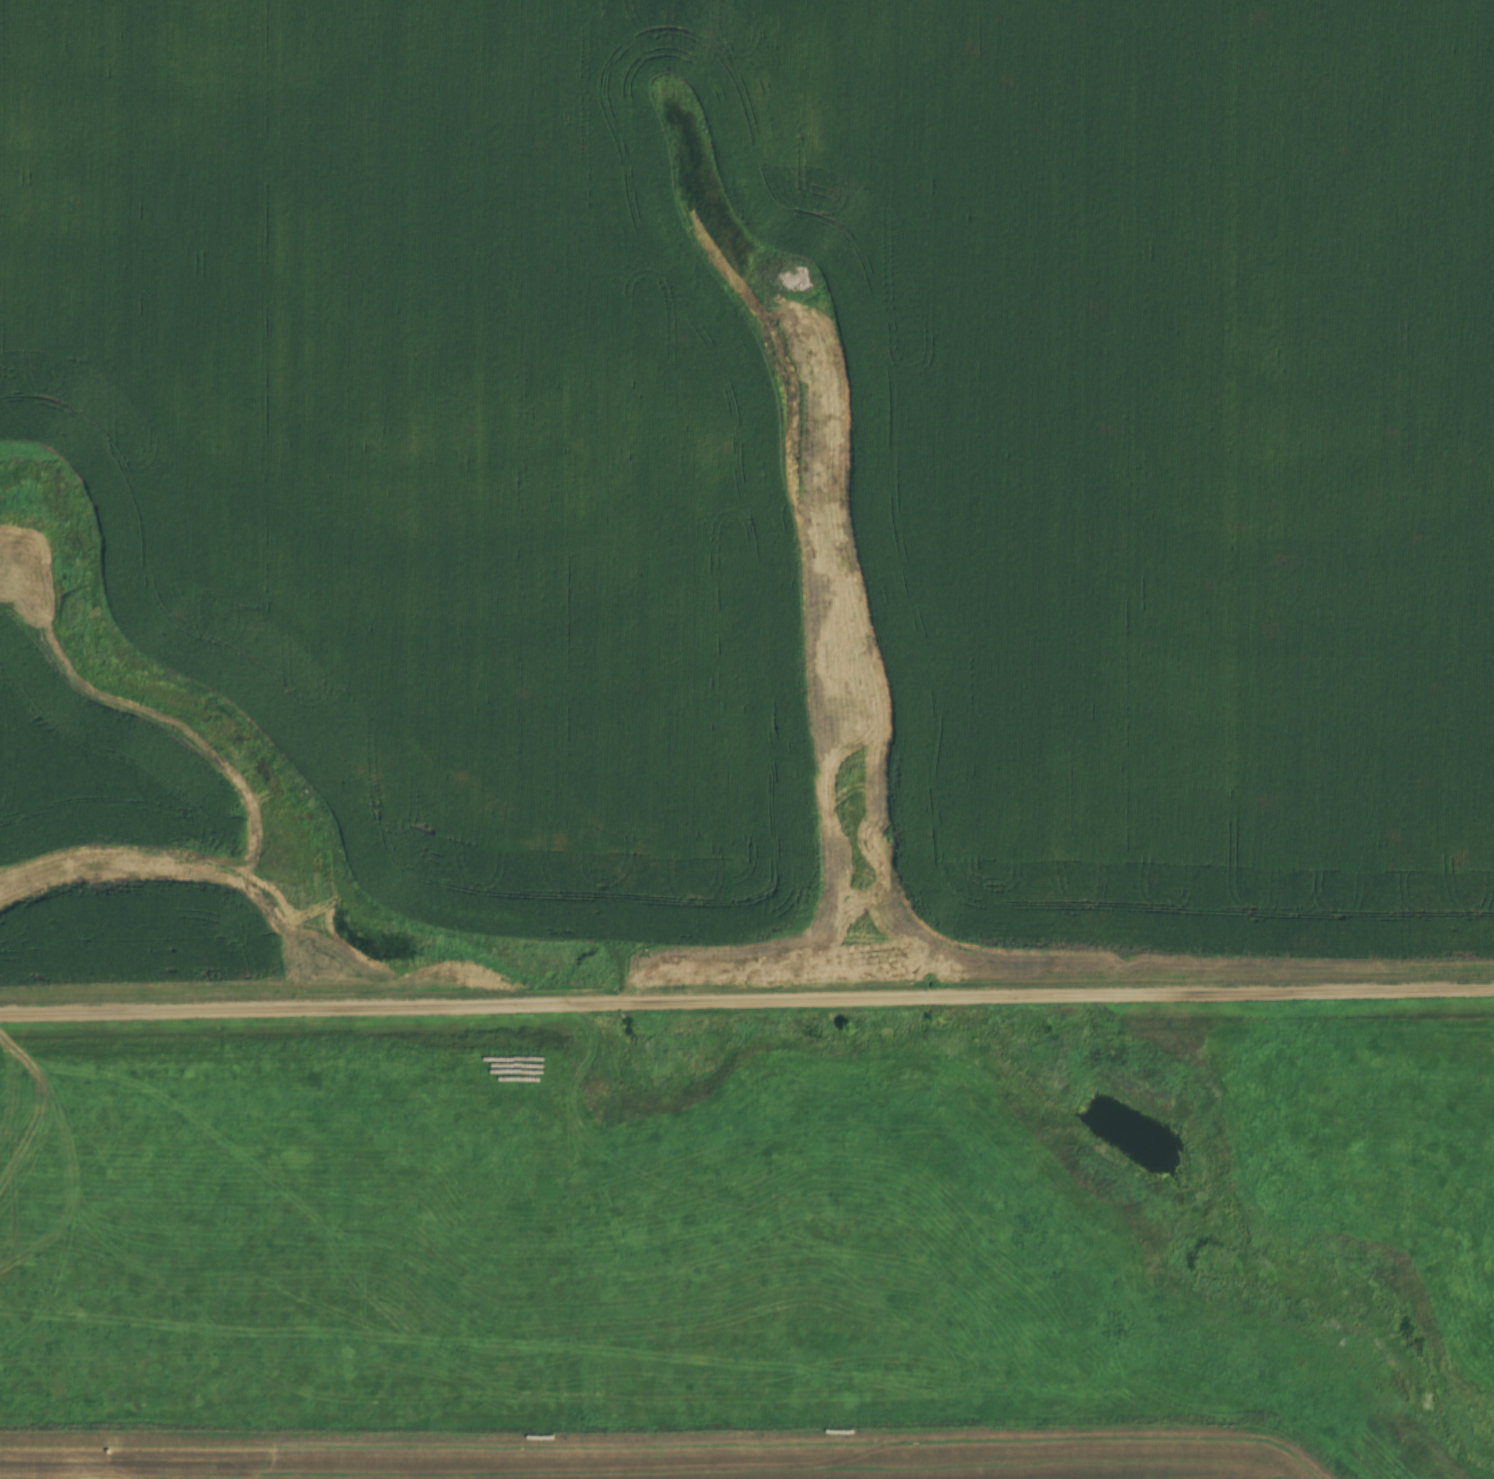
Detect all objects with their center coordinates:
road: (747, 1003)

